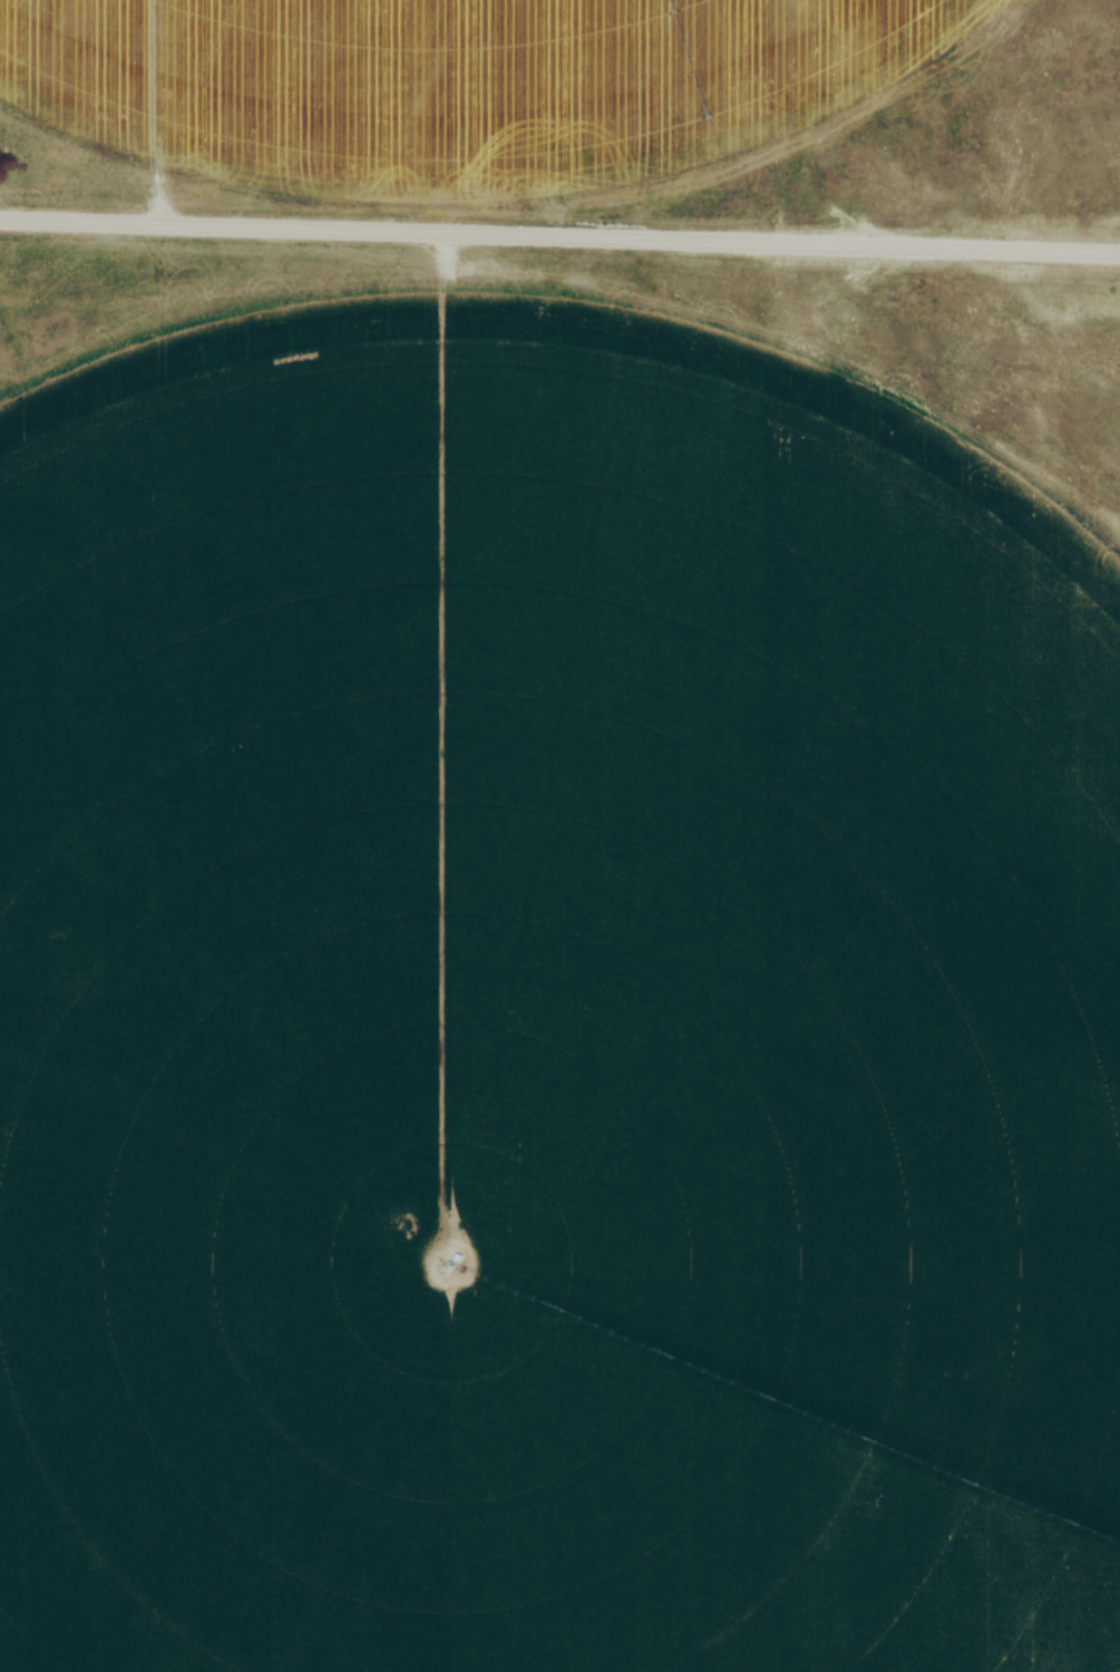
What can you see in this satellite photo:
crop: (445, 85)
road: (559, 240)
crop: (539, 994)

